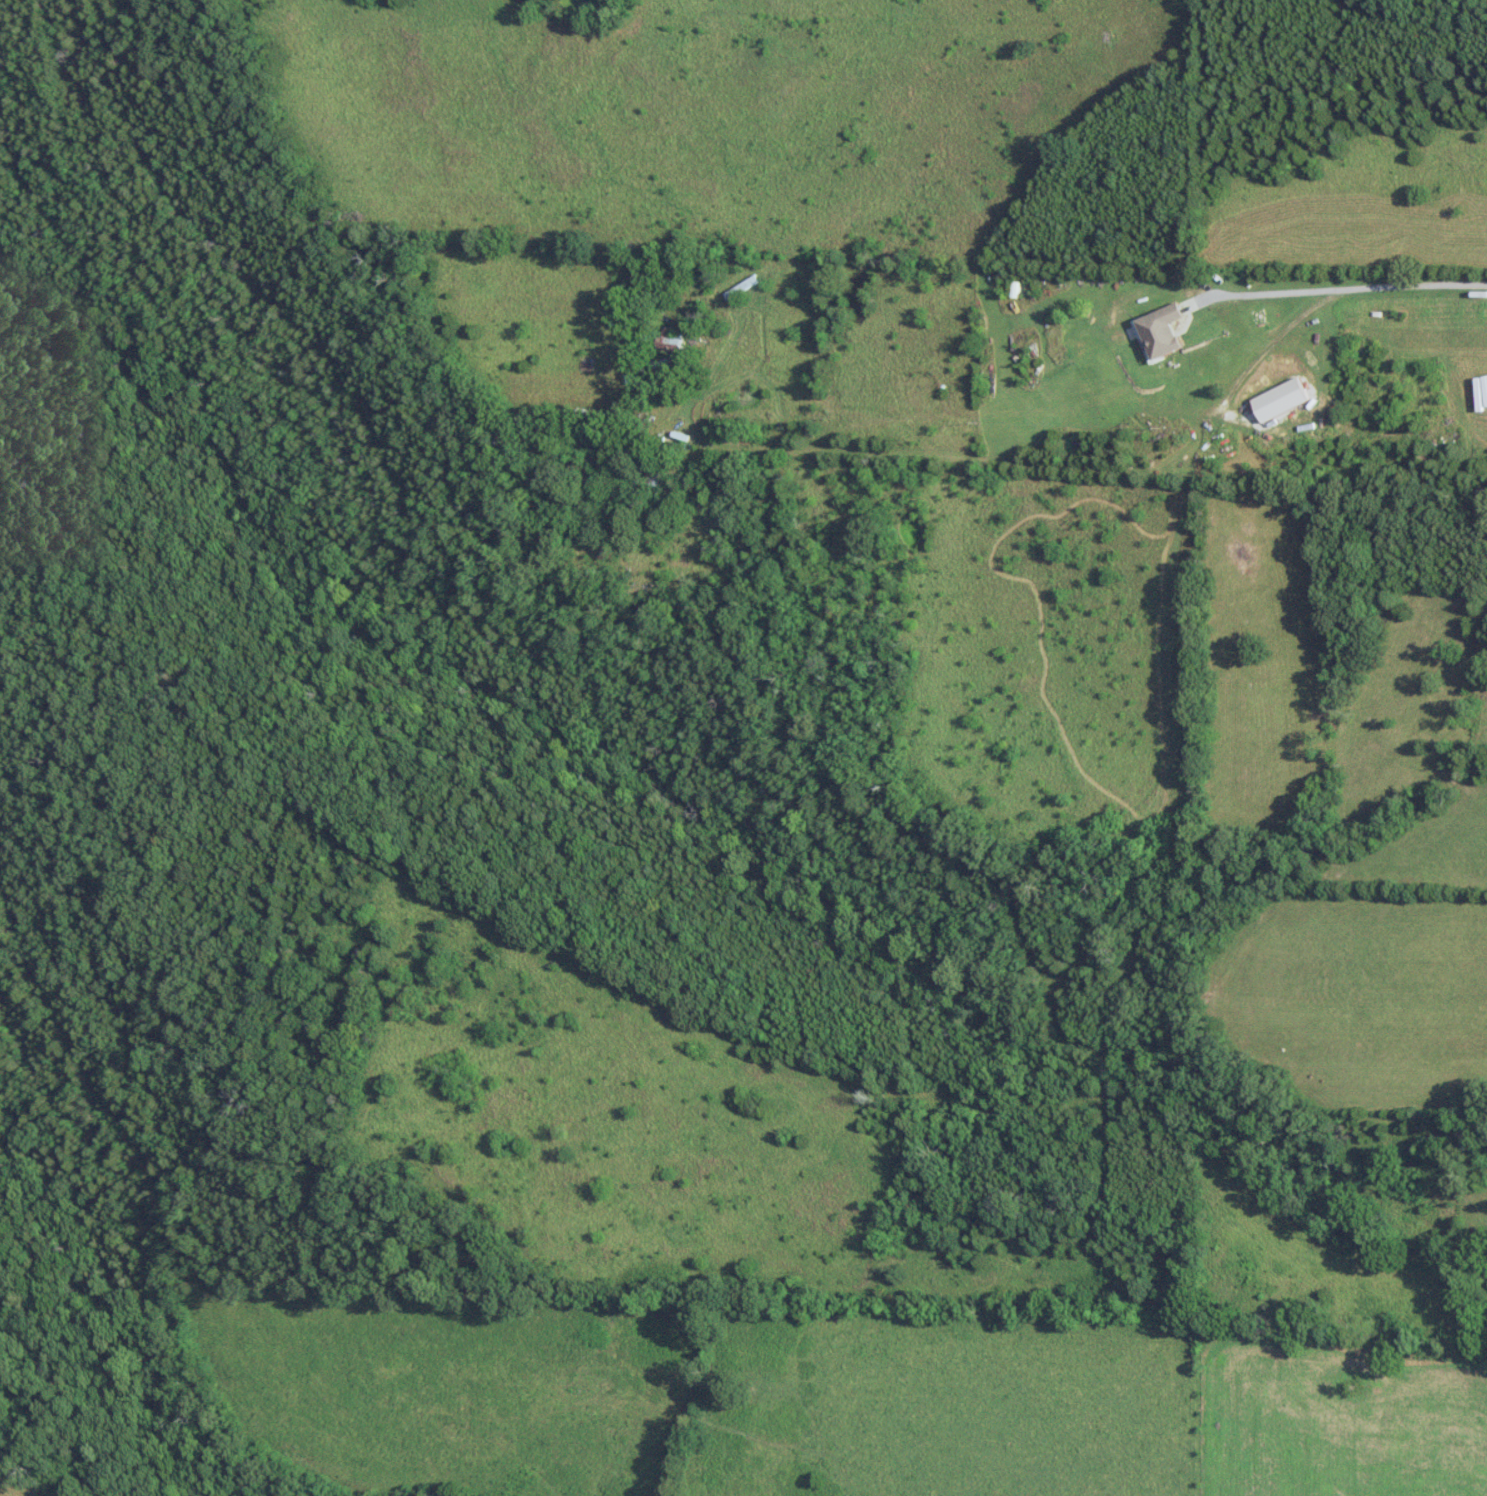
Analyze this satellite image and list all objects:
road: (1340, 289)
building: (1164, 331)
building: (1285, 398)

